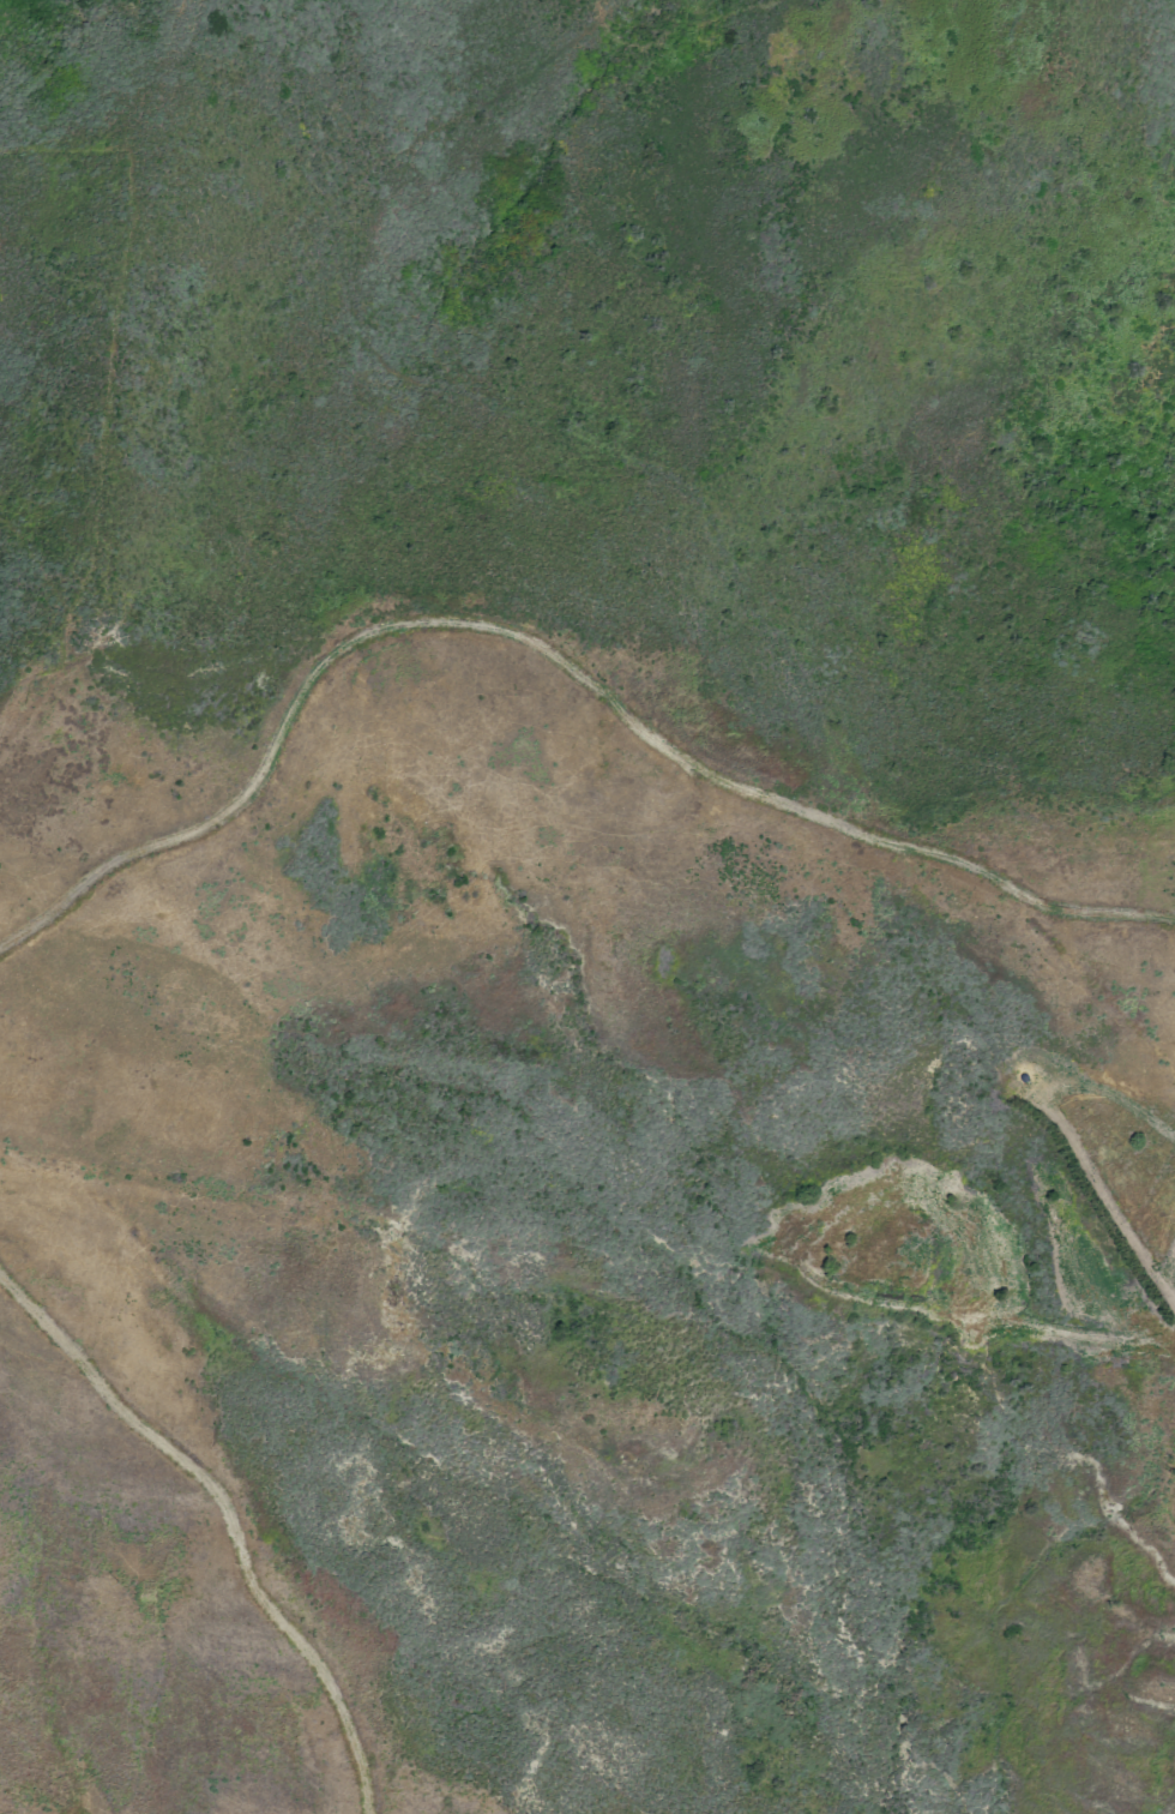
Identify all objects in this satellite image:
road: (553, 671)

